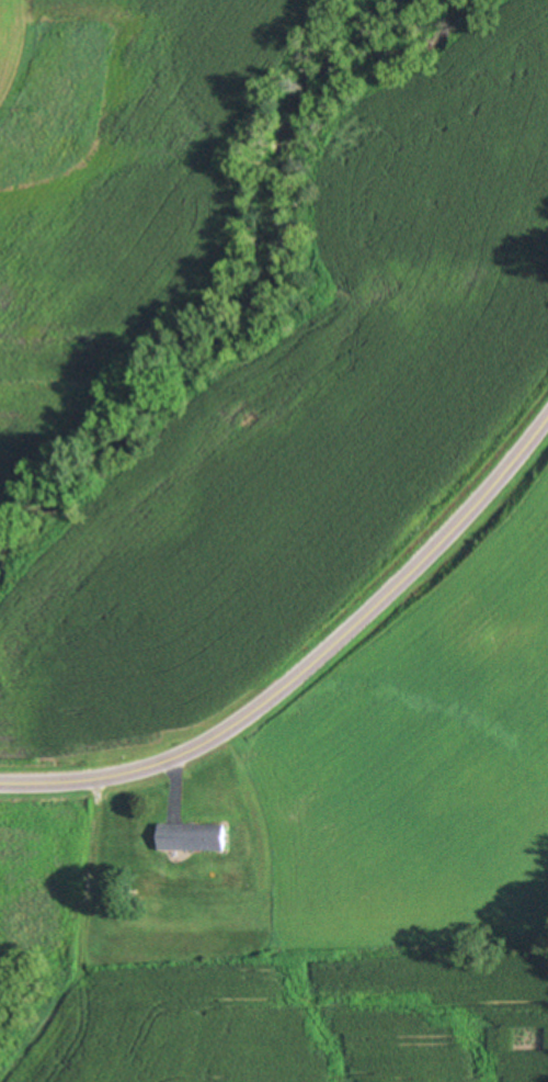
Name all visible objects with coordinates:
road: (309, 662)
building: (194, 835)

